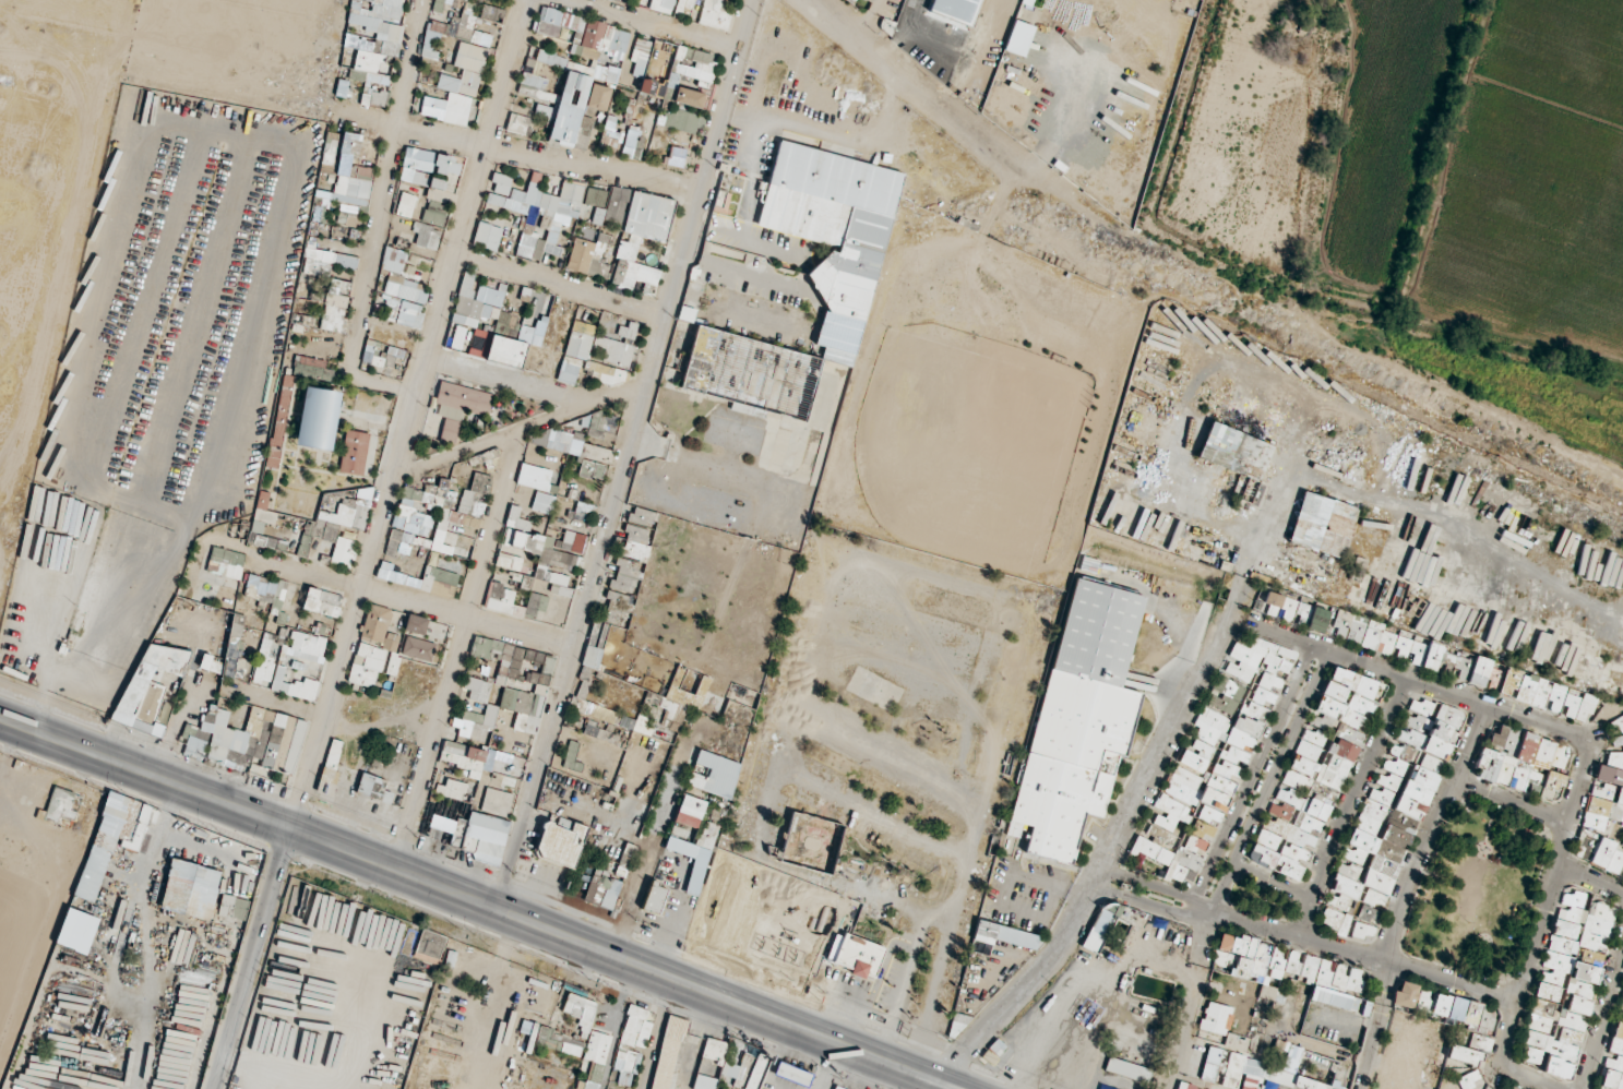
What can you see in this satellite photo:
crop: (1246, 131)
crop: (1386, 134)
crop: (1536, 178)
crop: (1520, 387)

